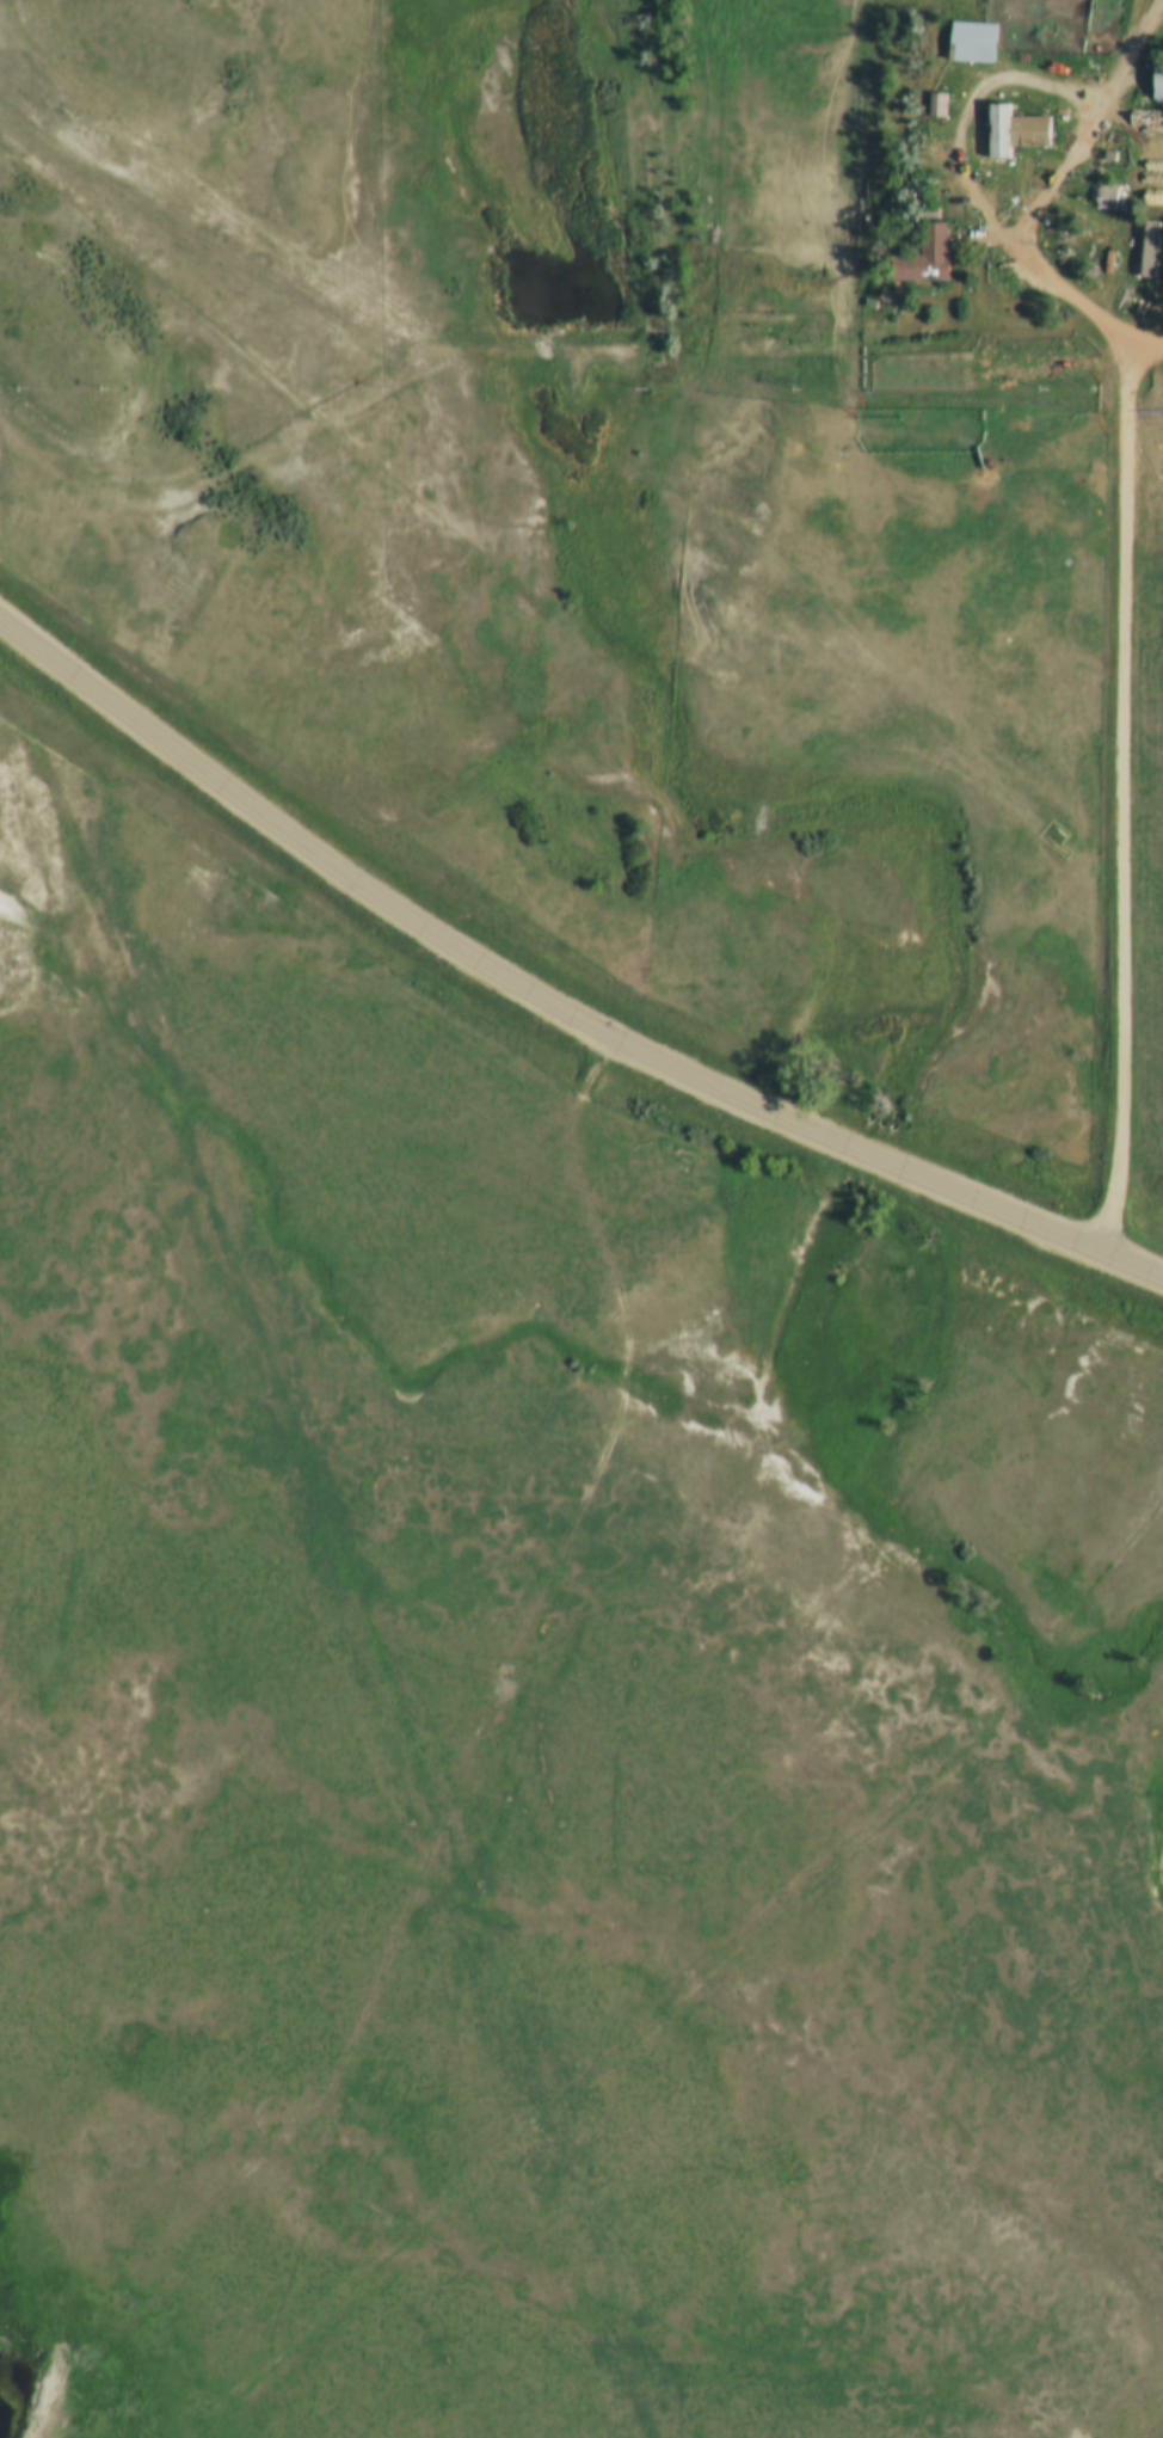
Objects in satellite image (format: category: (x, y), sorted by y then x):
building: (971, 41)
road: (1131, 45)
road: (1030, 79)
building: (1157, 82)
building: (936, 104)
building: (1014, 129)
building: (1107, 194)
building: (923, 254)
road: (1076, 309)
road: (1128, 798)
road: (527, 988)
road: (1136, 1269)

